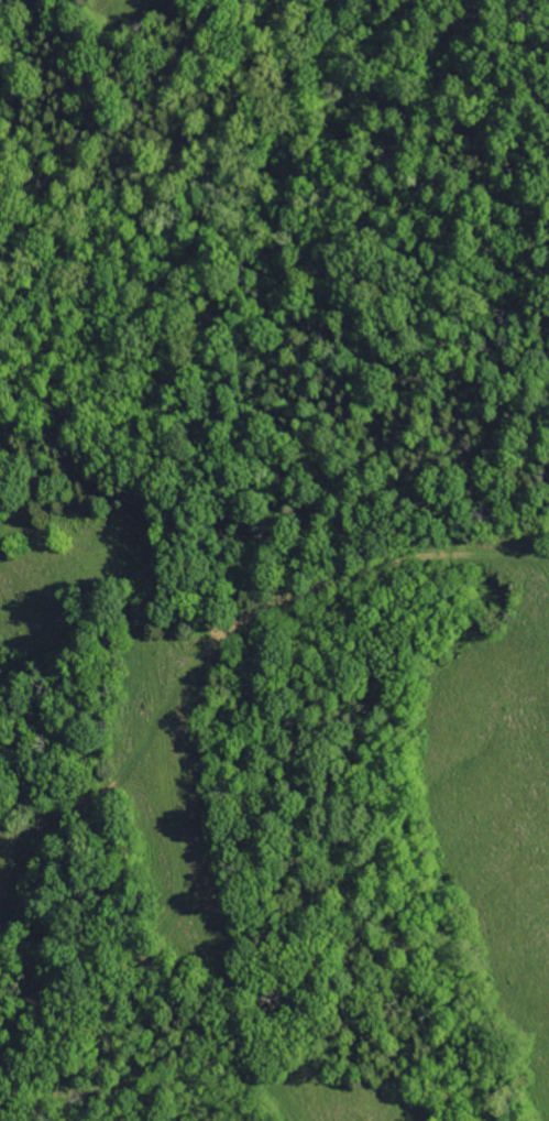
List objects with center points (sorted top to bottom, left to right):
road: (194, 617)

